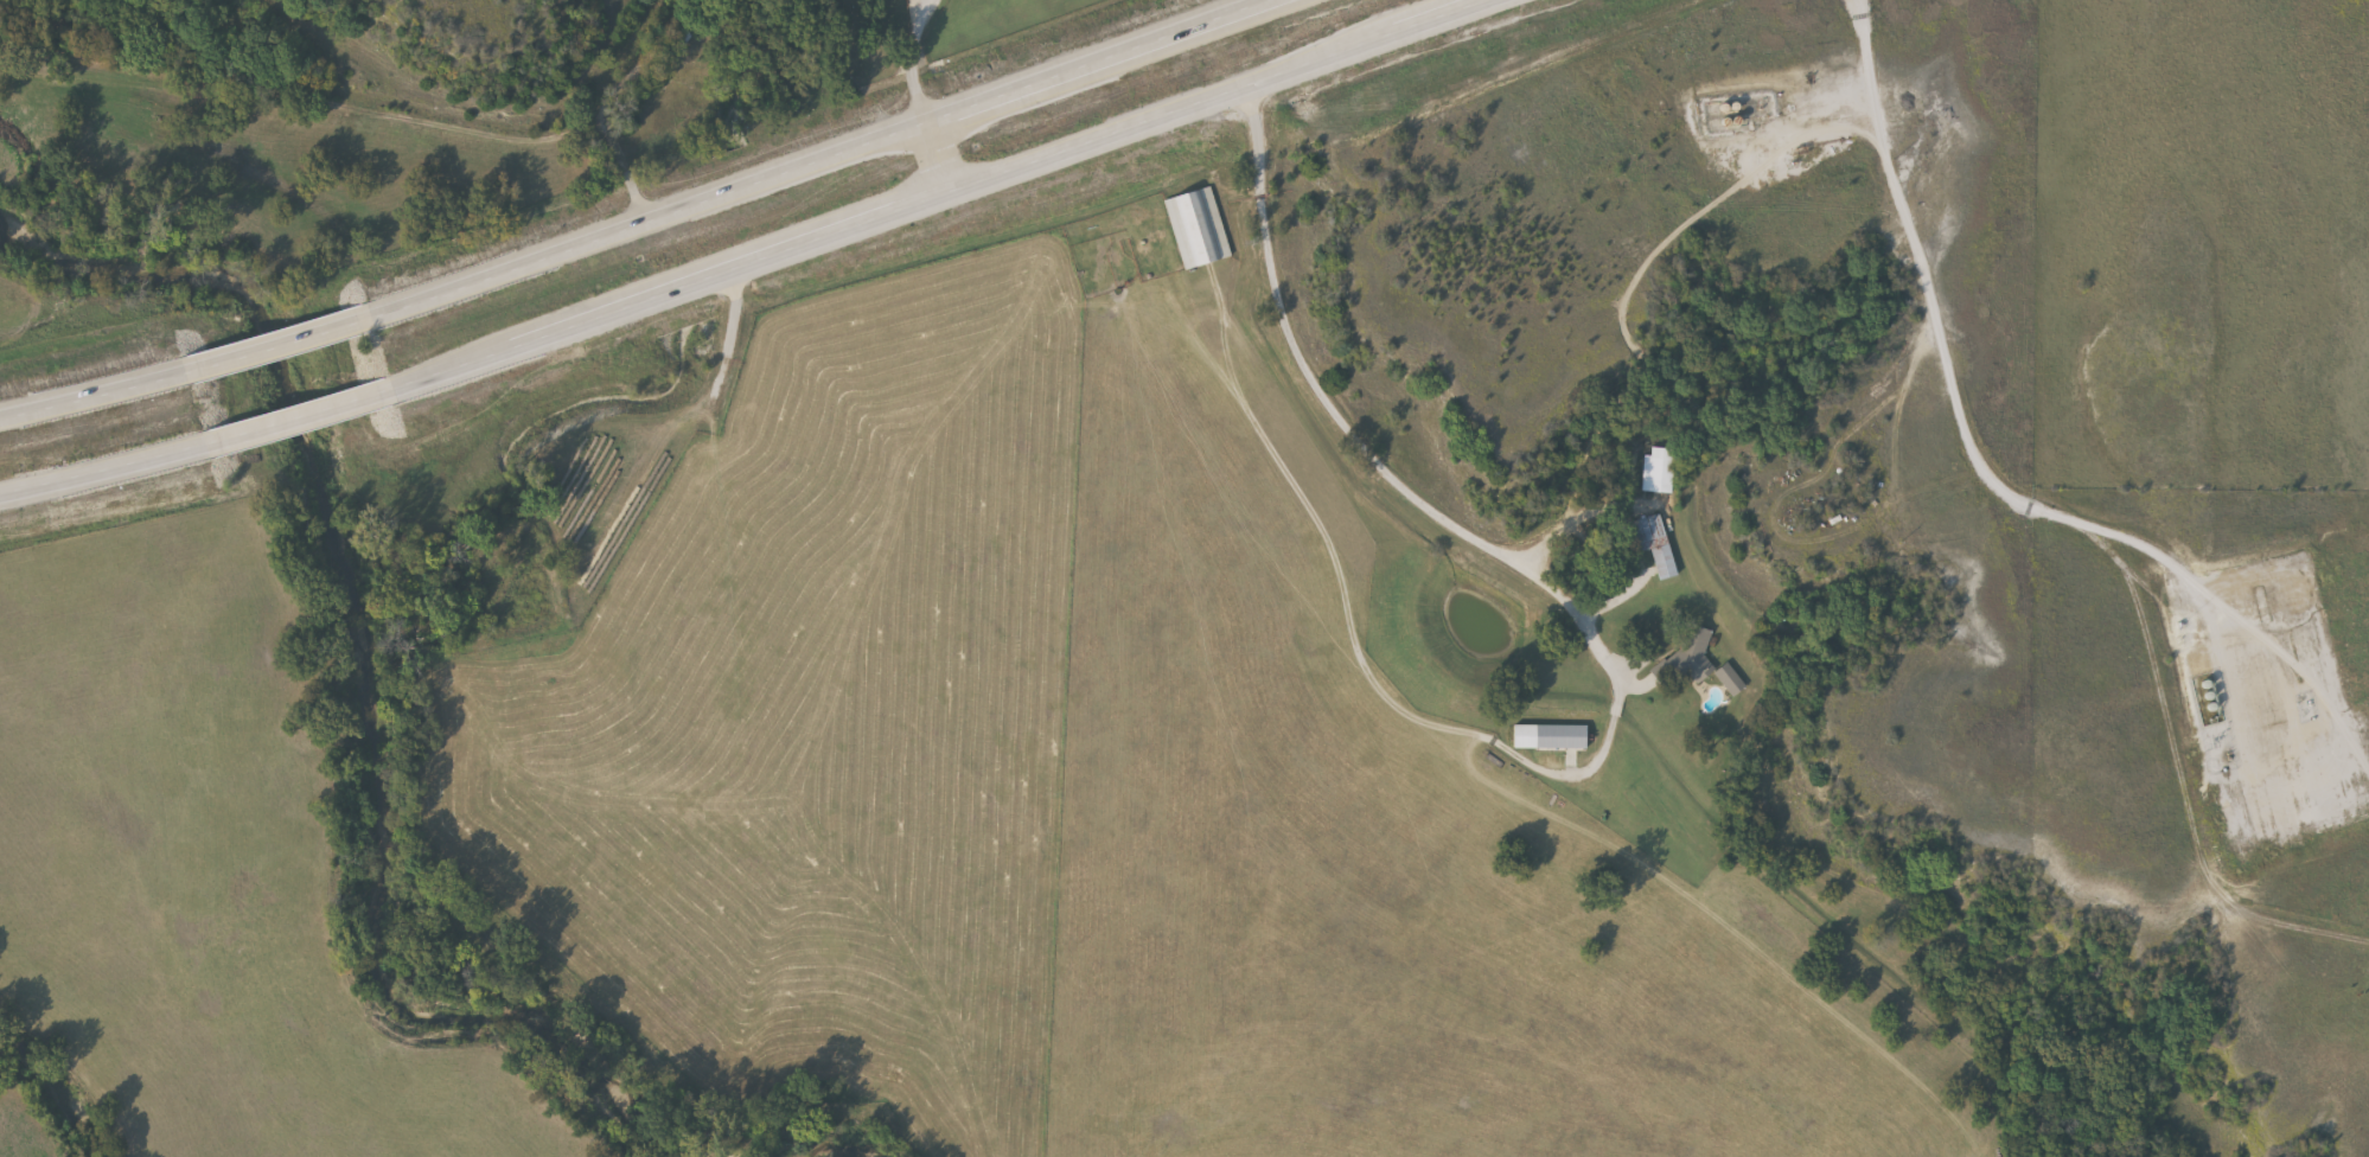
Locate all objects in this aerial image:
road: (907, 59)
building: (689, 76)
road: (617, 96)
road: (828, 153)
road: (934, 159)
road: (950, 193)
building: (1194, 230)
road: (277, 334)
road: (92, 388)
road: (304, 413)
building: (282, 423)
road: (1349, 437)
road: (106, 471)
road: (2057, 520)
building: (1648, 544)
road: (2246, 626)
building: (1688, 656)
building: (1728, 680)
building: (1545, 740)
road: (1533, 768)

